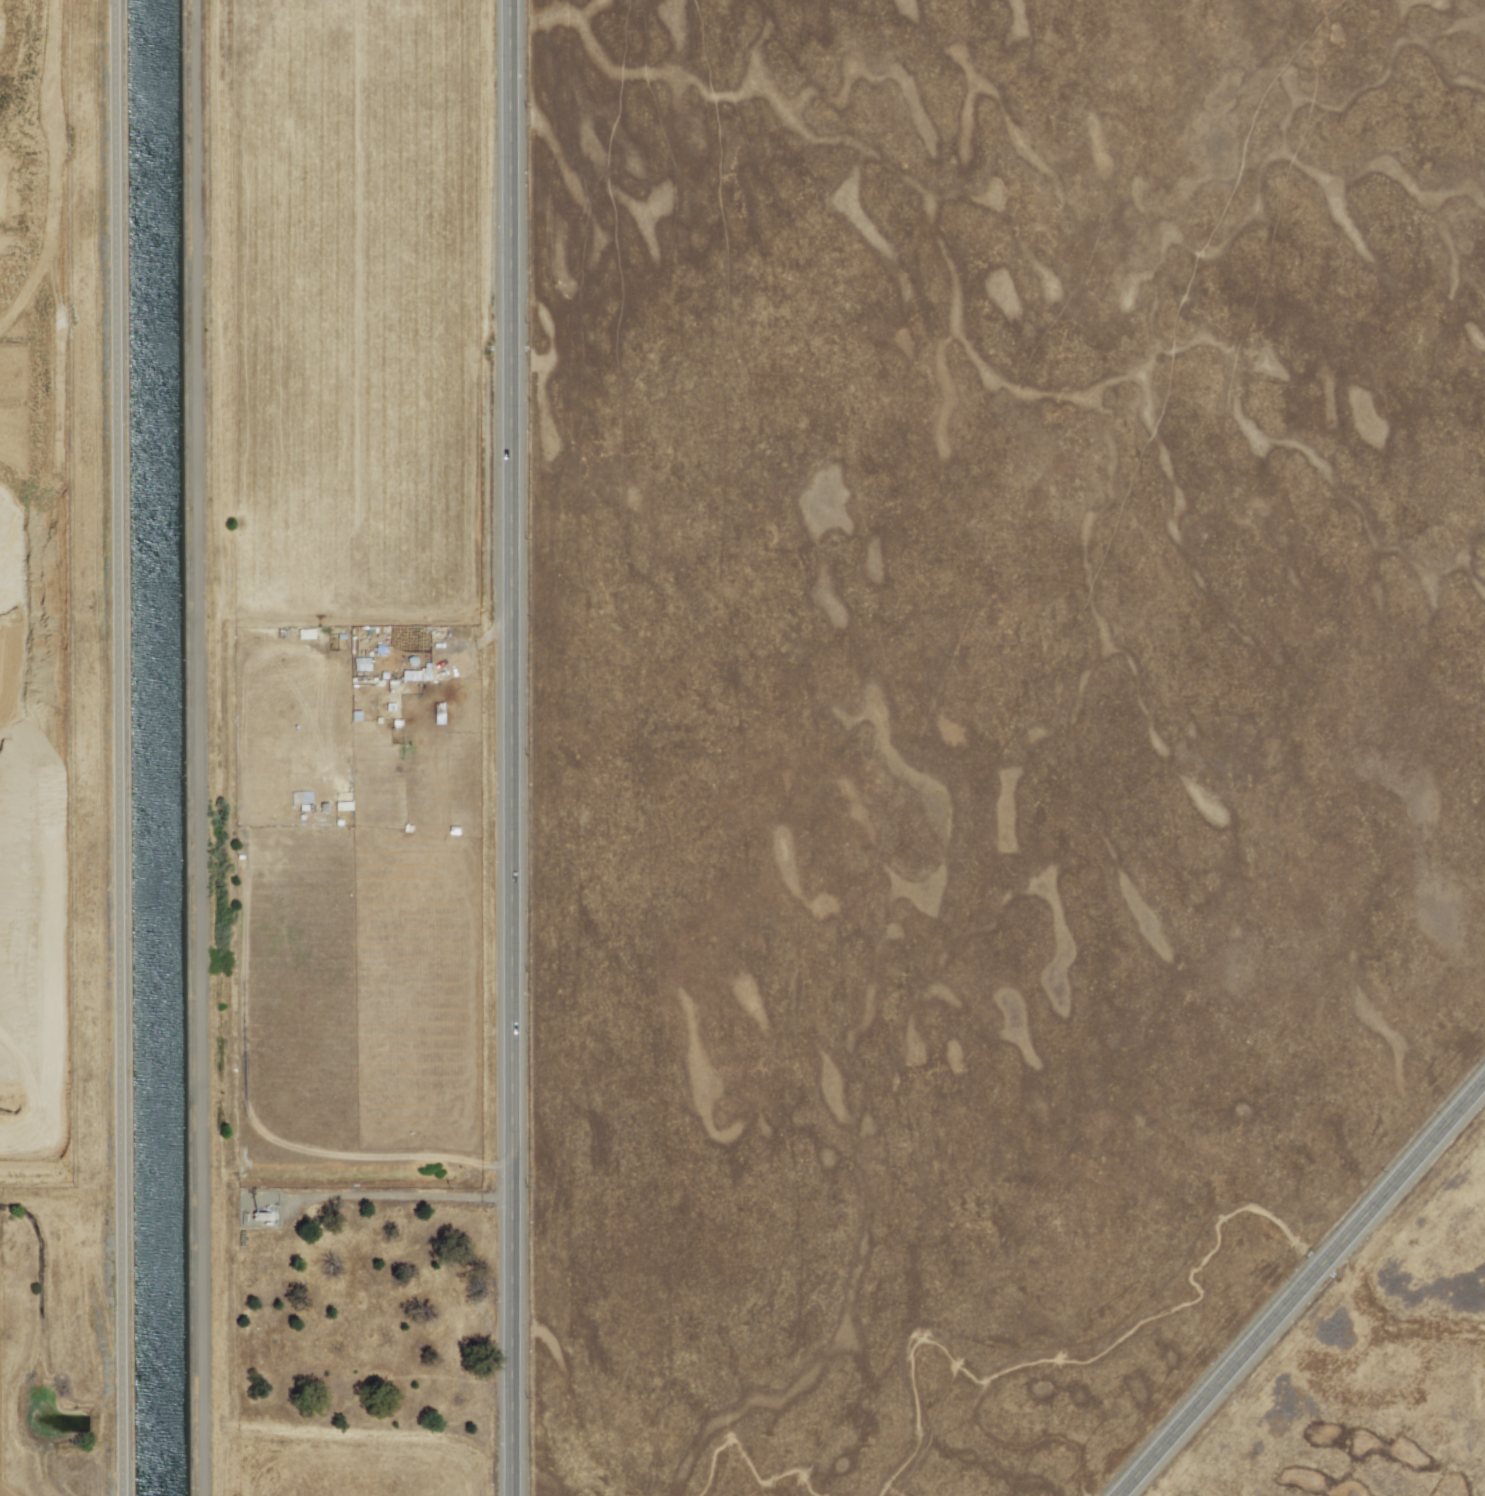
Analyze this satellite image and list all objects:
building: (414, 676)
crop: (347, 747)
road: (121, 748)
road: (203, 748)
road: (516, 748)
road: (399, 1196)
road: (1301, 1288)
crop: (1357, 1349)

